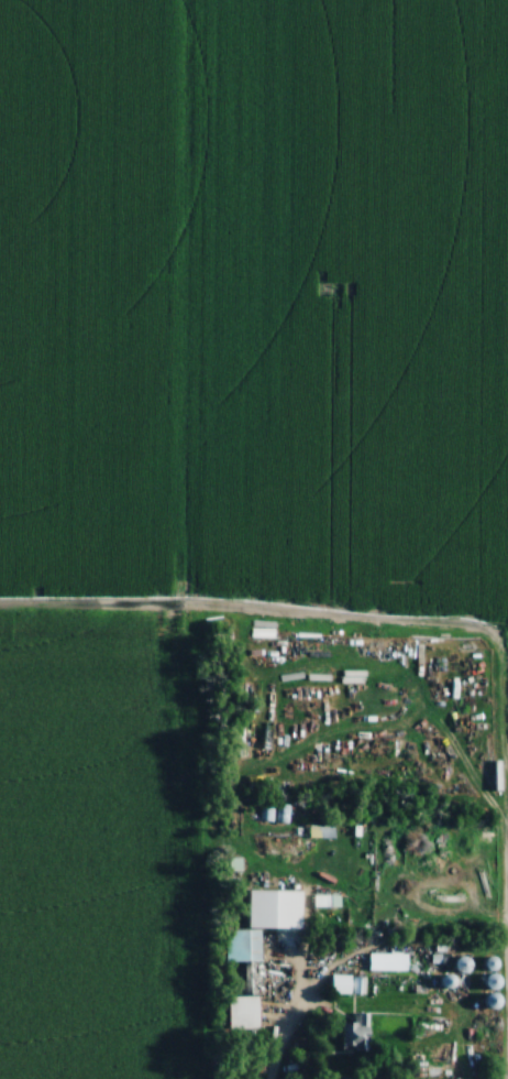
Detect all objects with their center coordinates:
building: (262, 631)
building: (206, 667)
building: (498, 775)
road: (488, 800)
building: (322, 832)
building: (323, 902)
building: (288, 925)
building: (388, 962)
building: (254, 984)
building: (349, 985)
road: (453, 1032)
building: (358, 1034)
road: (273, 1048)

